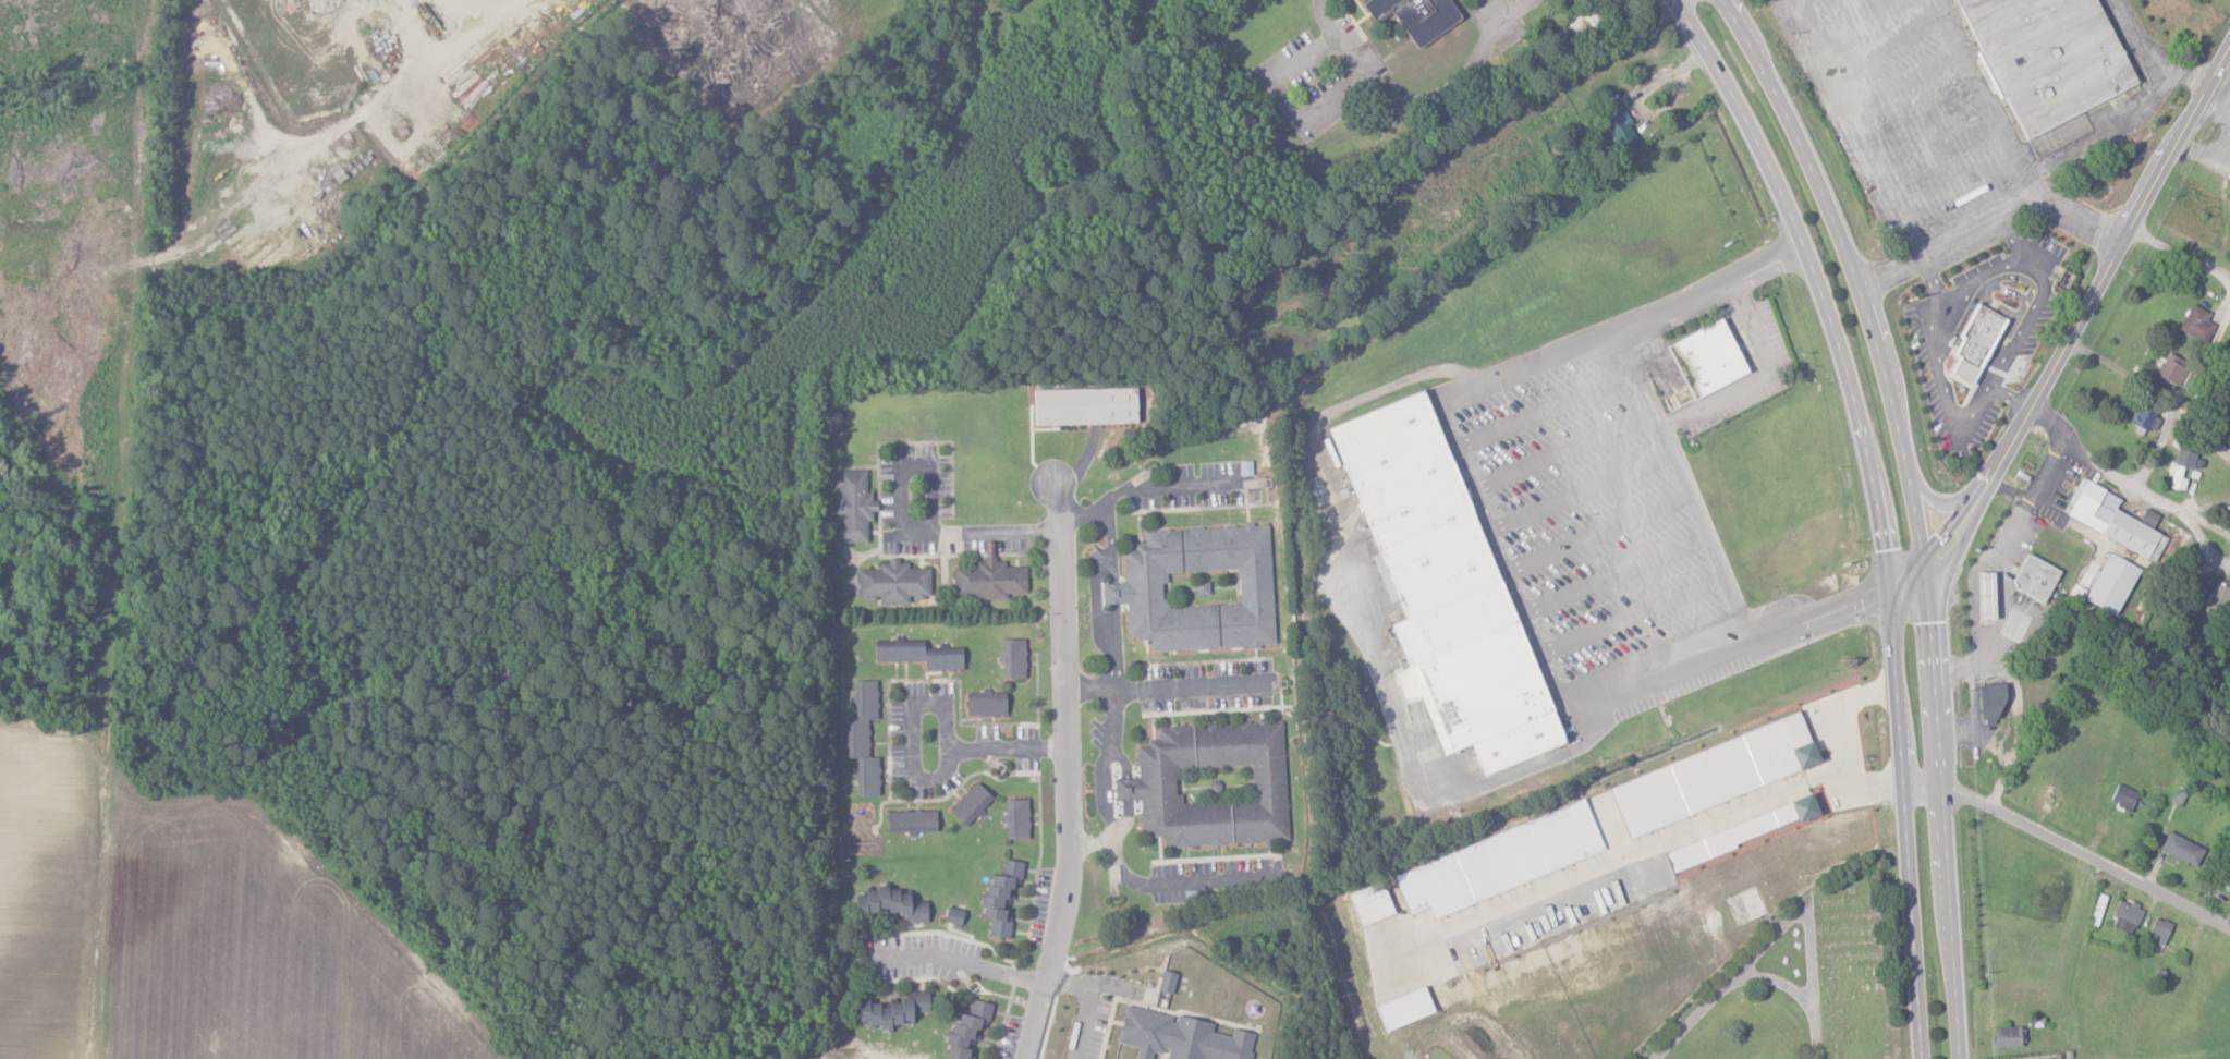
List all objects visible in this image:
building: (1416, 15)
building: (1584, 22)
road: (2148, 54)
building: (2040, 66)
road: (1418, 101)
building: (1614, 122)
road: (1852, 127)
road: (2104, 136)
road: (2021, 203)
road: (2013, 239)
road: (1889, 271)
road: (1930, 277)
building: (2197, 324)
road: (2073, 327)
road: (2217, 337)
building: (1707, 357)
road: (2003, 361)
building: (2172, 368)
road: (2121, 370)
road: (1648, 397)
road: (2009, 397)
building: (1084, 405)
building: (2144, 415)
building: (2185, 459)
building: (2177, 476)
road: (2121, 479)
road: (1170, 488)
building: (852, 506)
road: (1875, 510)
road: (1916, 512)
road: (1080, 514)
building: (2112, 520)
road: (901, 521)
road: (1110, 531)
road: (1986, 556)
traffic signals: (1928, 565)
building: (2035, 577)
building: (990, 580)
building: (893, 582)
building: (2111, 583)
building: (1197, 587)
traffic signals: (1889, 588)
building: (1448, 593)
building: (1986, 595)
building: (2218, 599)
road: (1097, 623)
road: (1741, 646)
building: (917, 654)
building: (1012, 658)
road: (1167, 687)
building: (1991, 702)
building: (985, 703)
road: (1974, 713)
building: (863, 738)
road: (1845, 740)
road: (1067, 771)
road: (927, 777)
building: (1210, 784)
building: (2124, 796)
building: (2049, 798)
building: (970, 803)
building: (1016, 819)
building: (911, 821)
building: (1741, 832)
road: (2069, 843)
road: (1092, 844)
building: (2182, 849)
road: (1624, 854)
building: (1550, 860)
road: (1116, 861)
building: (1000, 898)
building: (891, 904)
building: (953, 915)
building: (2127, 916)
building: (2161, 929)
road: (952, 961)
park: (1805, 978)
building: (1167, 982)
road: (1086, 1006)
building: (892, 1011)
building: (966, 1030)
building: (1180, 1037)
building: (2008, 1037)

